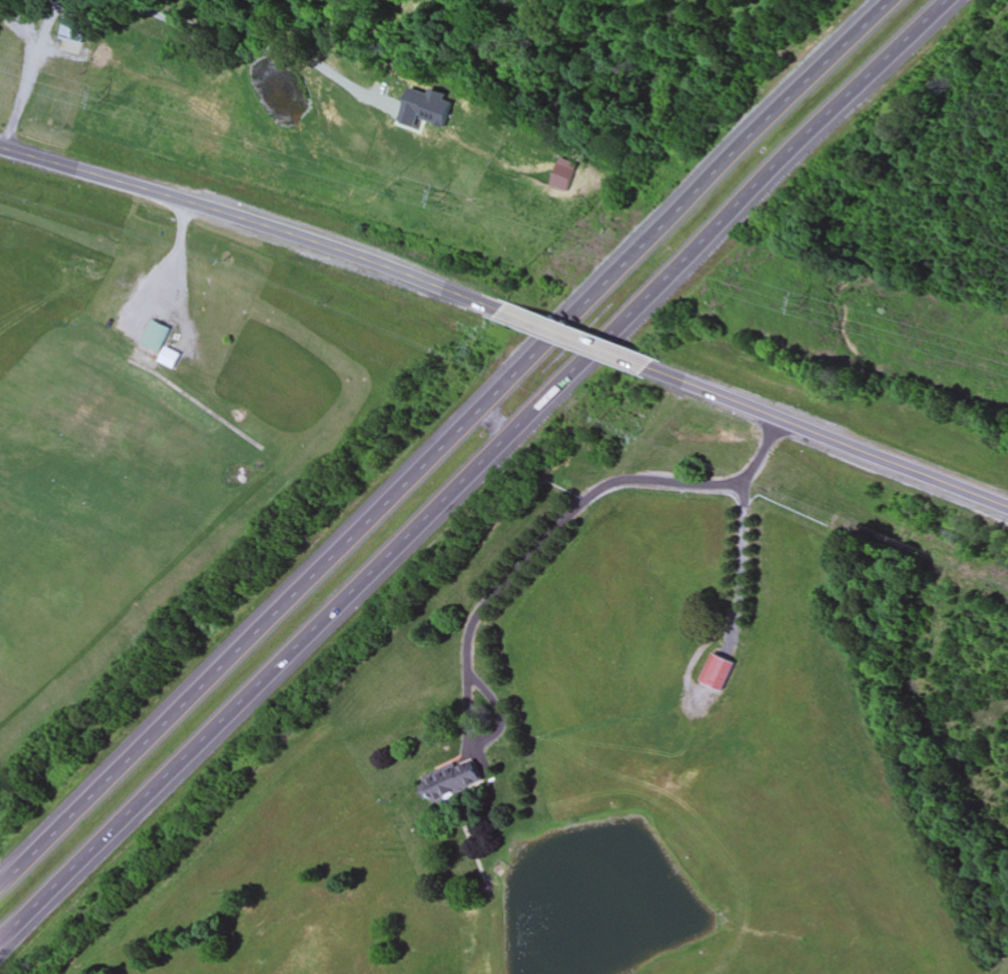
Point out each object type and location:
building: (75, 26)
road: (20, 93)
power tower: (104, 96)
power tower: (443, 195)
road: (254, 222)
road: (178, 259)
building: (154, 337)
road: (576, 339)
road: (827, 436)
road: (444, 441)
road: (472, 470)
road: (533, 552)
road: (737, 609)
building: (717, 672)
building: (453, 782)

